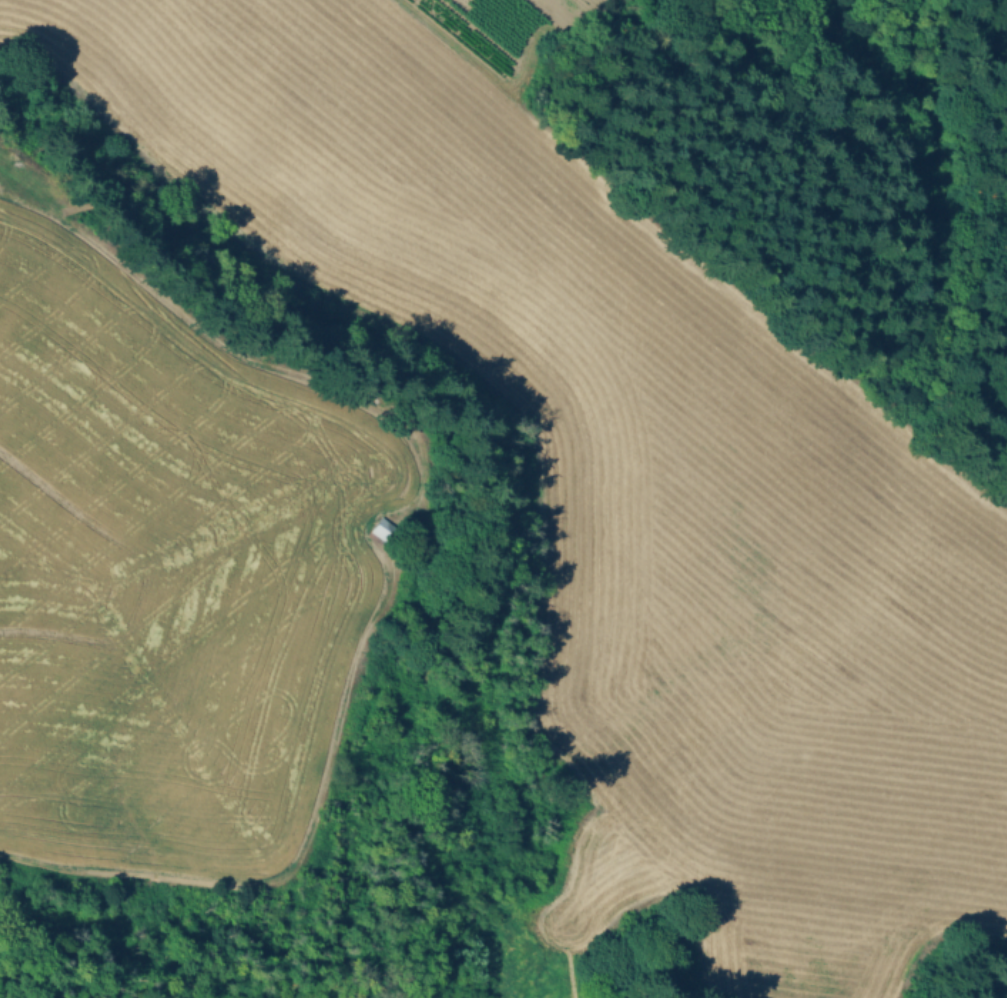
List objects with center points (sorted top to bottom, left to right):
crop: (523, 70)
crop: (635, 491)
building: (379, 530)
crop: (171, 572)

